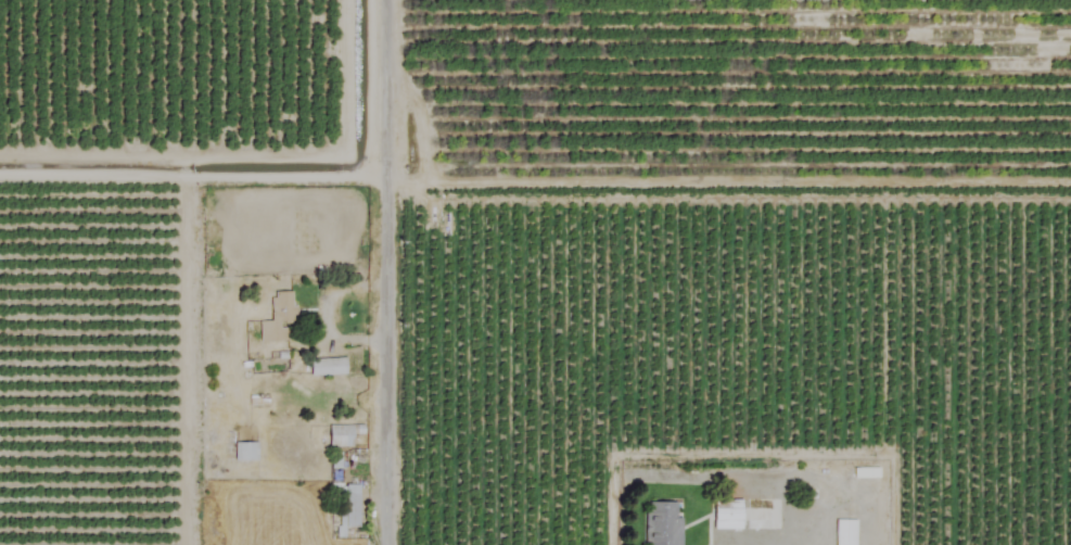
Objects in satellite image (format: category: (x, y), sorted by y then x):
crop: (22, 84)
road: (195, 175)
crop: (707, 268)
road: (390, 272)
building: (278, 319)
building: (328, 367)
building: (343, 435)
building: (245, 452)
building: (866, 473)
building: (350, 506)
building: (662, 523)
building: (845, 532)
road: (803, 533)

